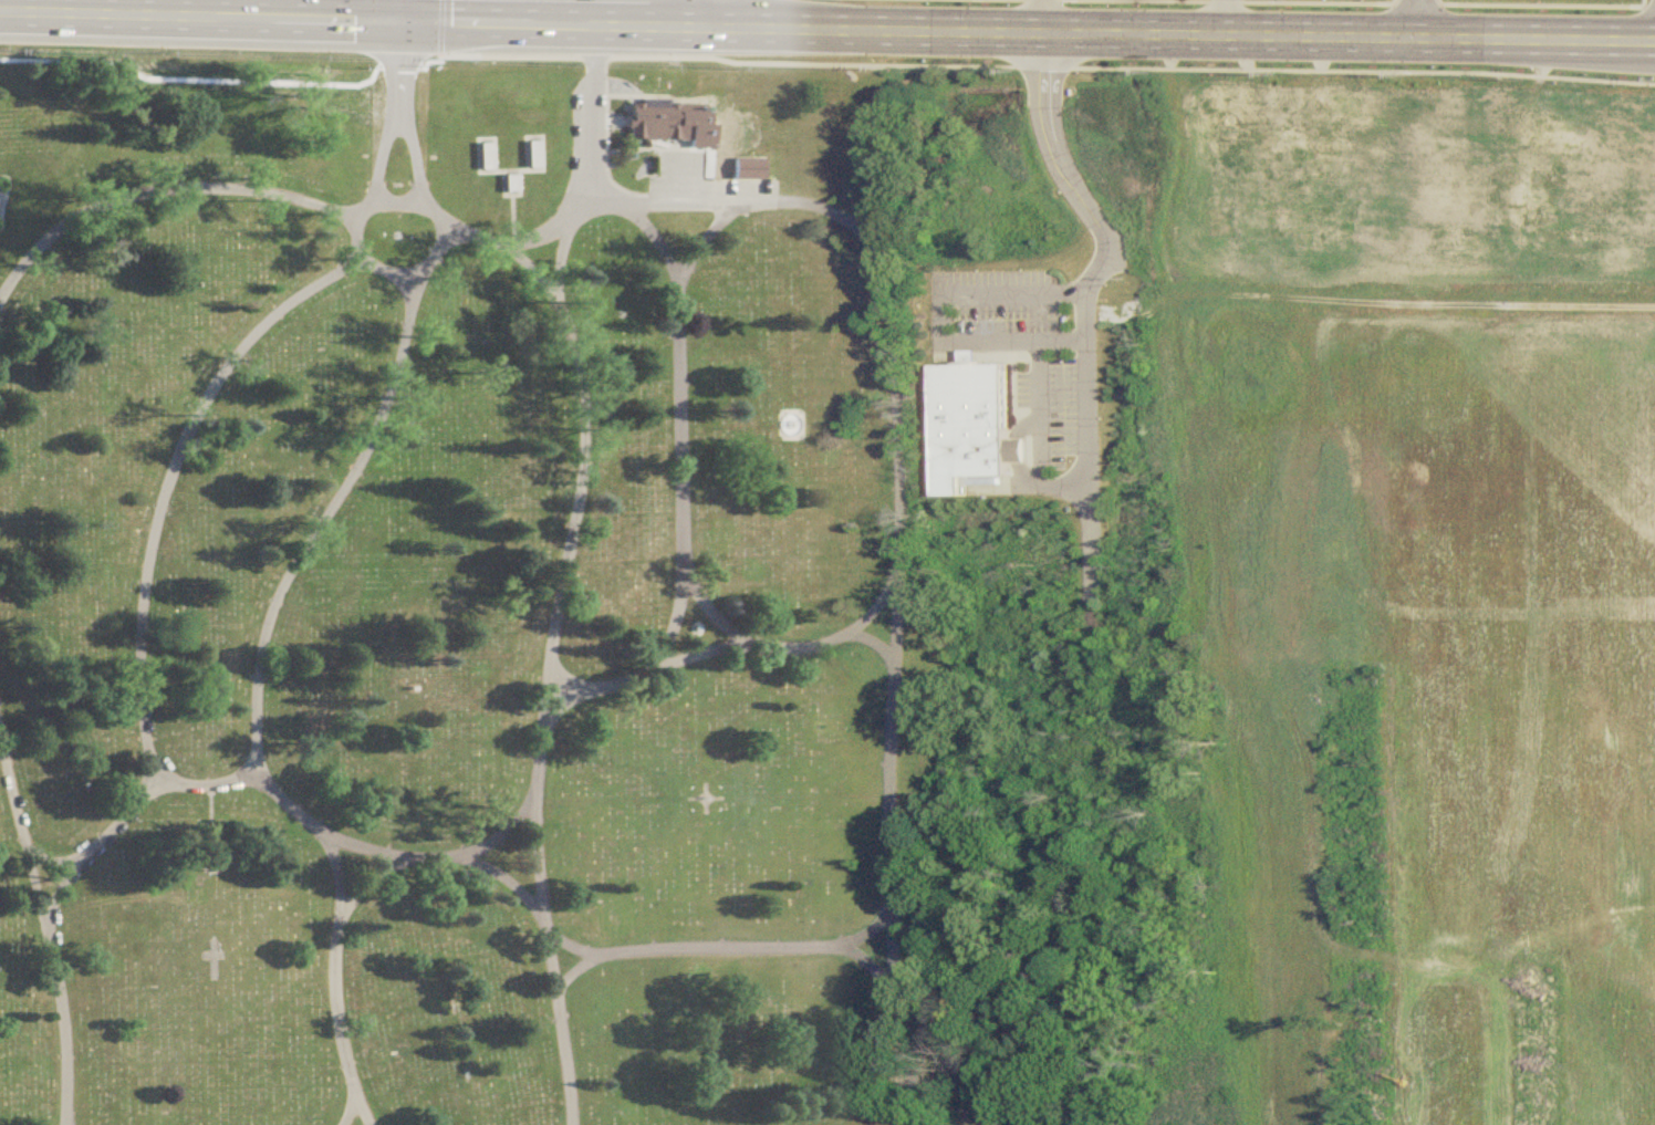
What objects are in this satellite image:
road: (1179, 0)
road: (1323, 2)
road: (1538, 4)
road: (395, 11)
road: (709, 14)
road: (1043, 17)
road: (198, 18)
road: (1226, 18)
road: (1422, 19)
traffic signals: (396, 22)
road: (665, 29)
road: (1294, 35)
road: (1035, 65)
building: (1350, 106)
road: (590, 112)
road: (376, 113)
building: (665, 121)
building: (1219, 126)
building: (1557, 134)
building: (530, 155)
building: (481, 159)
building: (746, 168)
building: (507, 184)
road: (194, 190)
parking lot: (707, 192)
road: (677, 200)
road: (423, 208)
road: (720, 215)
building: (1530, 228)
road: (1105, 230)
building: (1316, 237)
building: (1617, 257)
road: (397, 272)
road: (1014, 333)
parking lot: (1034, 382)
building: (967, 421)
building: (1016, 451)
road: (577, 465)
road: (899, 467)
road: (675, 469)
road: (1059, 481)
road: (153, 523)
road: (1092, 525)
park: (460, 595)
road: (875, 610)
road: (712, 613)
road: (620, 683)
road: (250, 707)
road: (508, 823)
road: (95, 837)
road: (334, 861)
road: (868, 924)
road: (48, 931)
road: (891, 934)
road: (793, 945)
road: (332, 981)
road: (345, 1104)
road: (66, 1116)

